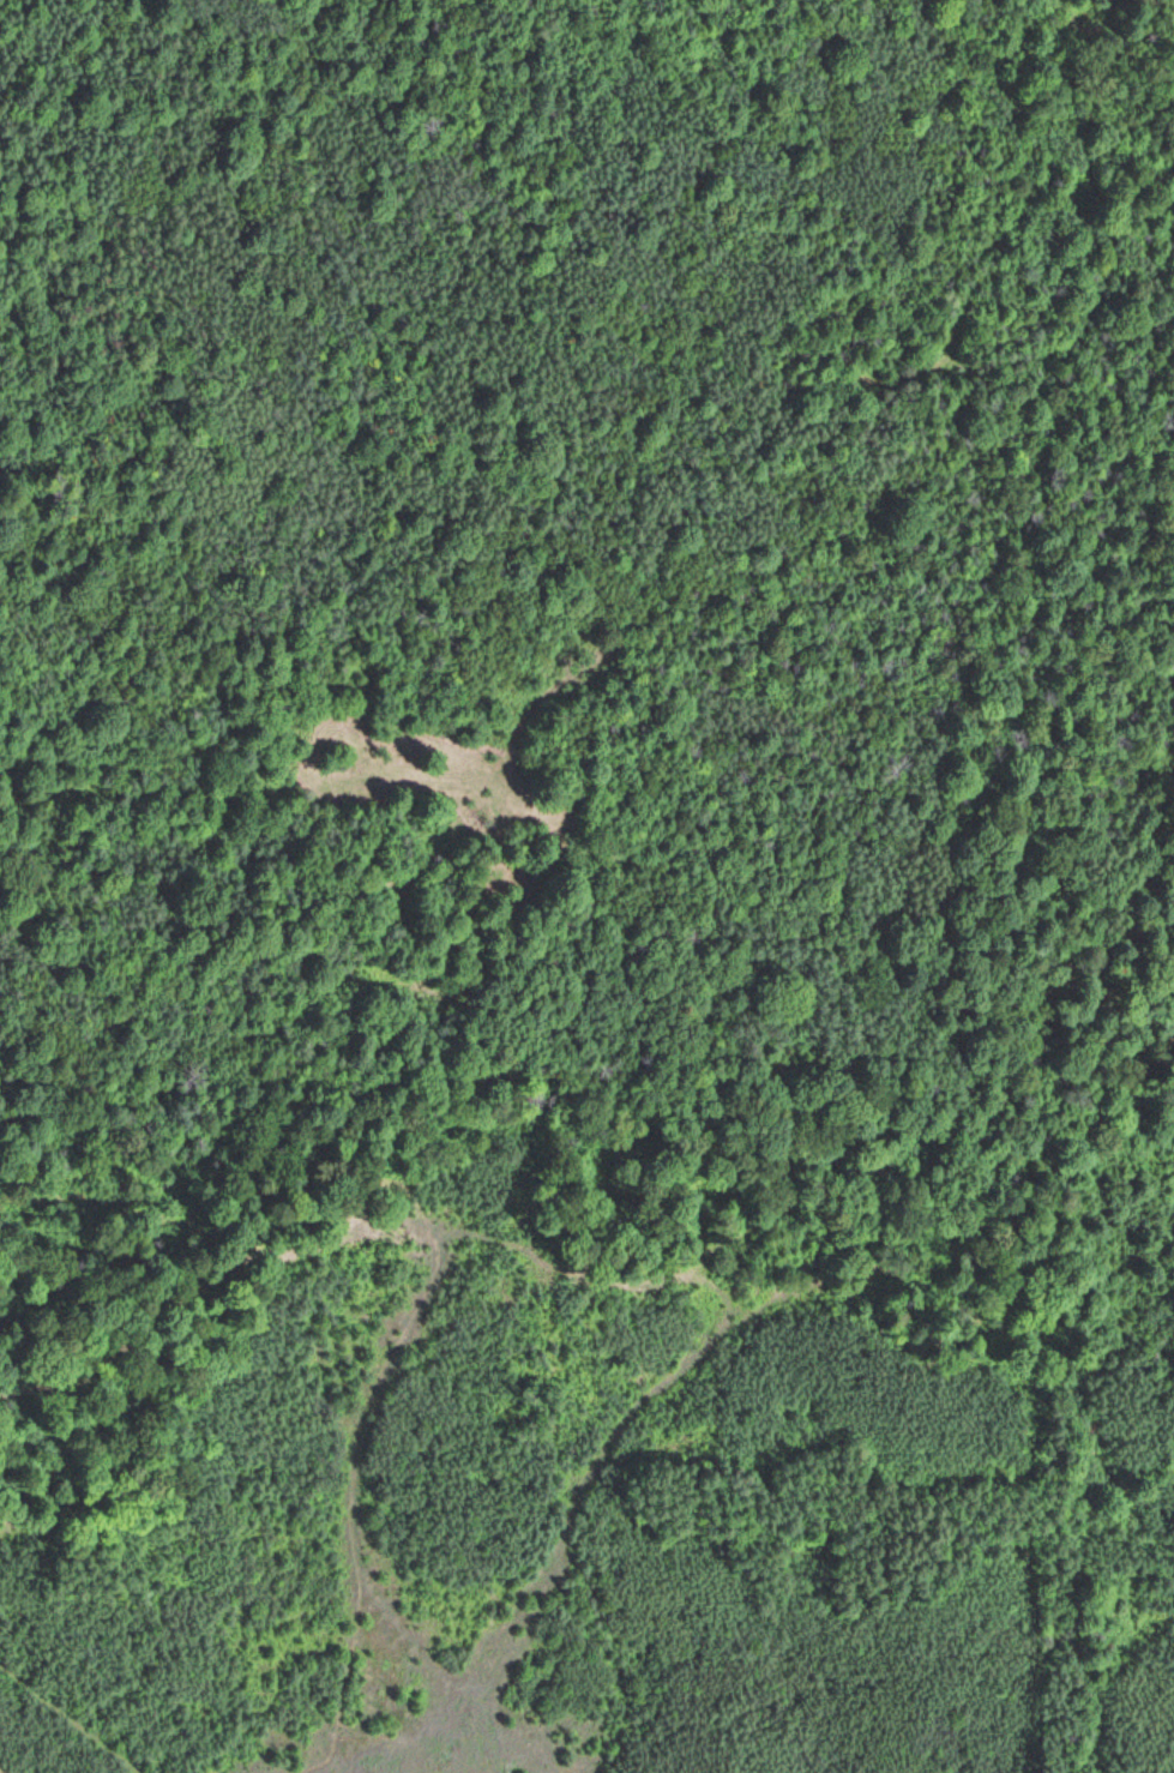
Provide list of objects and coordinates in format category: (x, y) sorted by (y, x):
road: (195, 1177)

